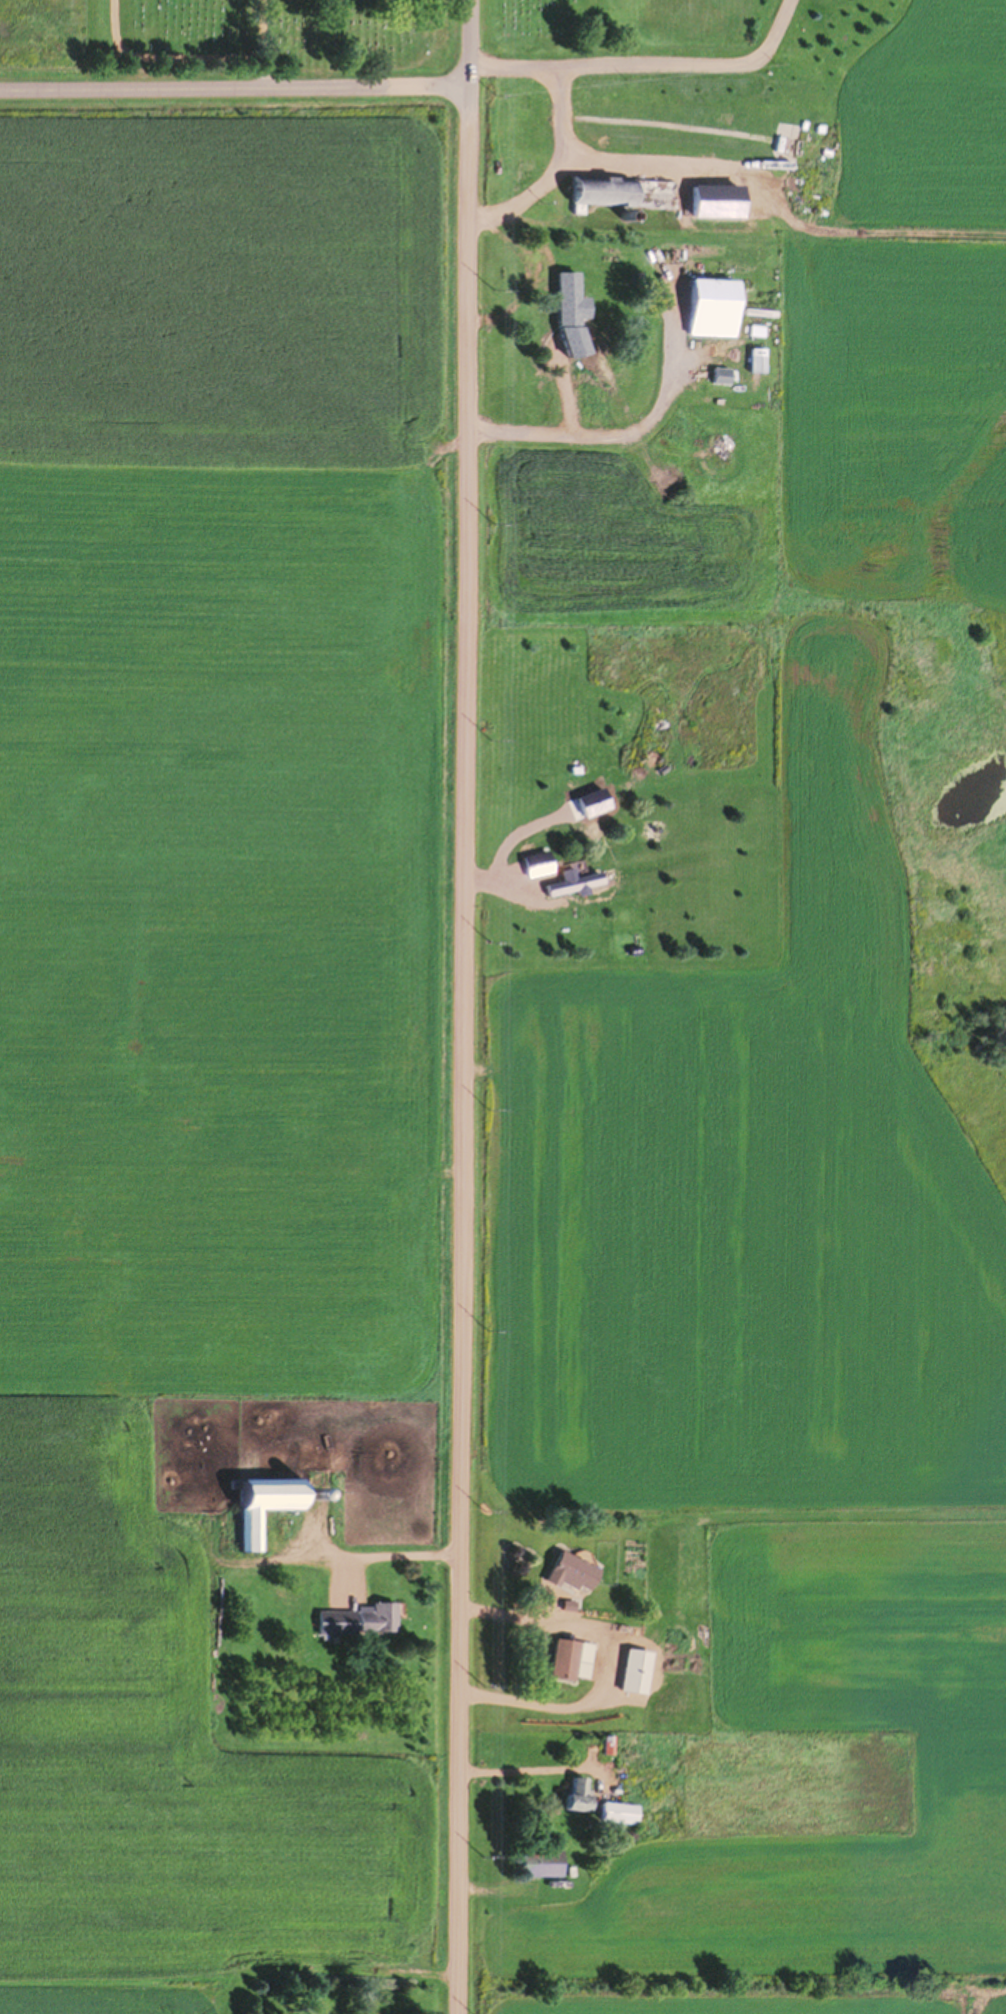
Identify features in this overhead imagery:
road: (88, 44)
road: (268, 44)
road: (133, 48)
road: (236, 88)
building: (625, 192)
building: (713, 299)
building: (567, 300)
building: (537, 862)
building: (575, 880)
road: (467, 1007)
building: (264, 1504)
building: (573, 1571)
building: (360, 1620)
building: (568, 1658)
building: (635, 1670)
building: (578, 1793)
building: (618, 1812)
building: (541, 1862)

